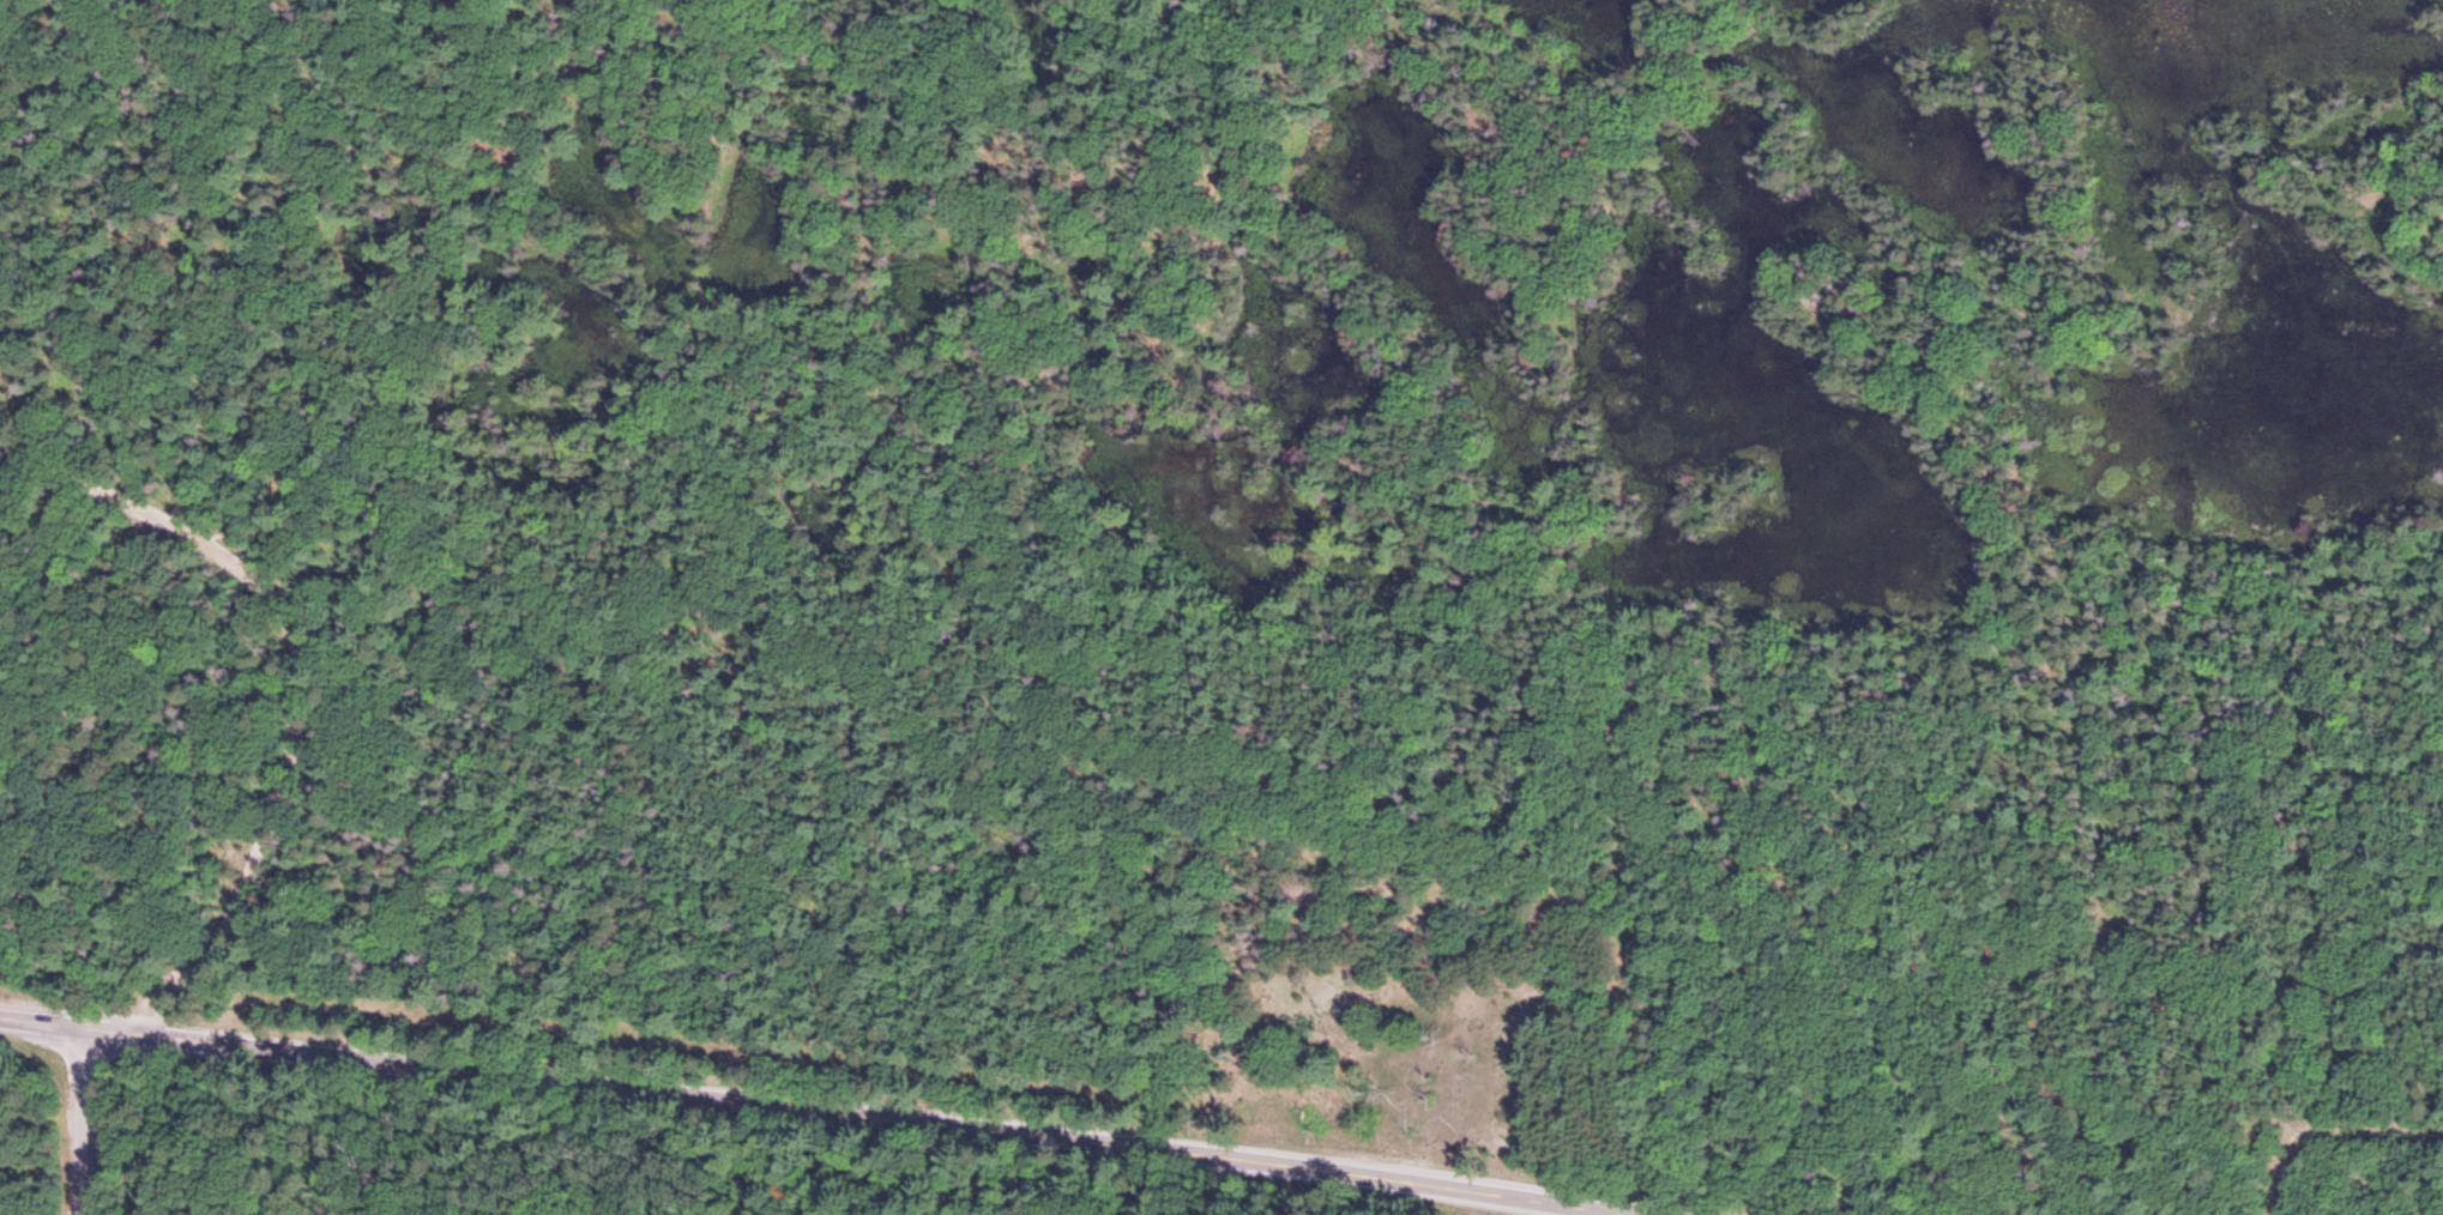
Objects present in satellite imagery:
road: (84, 531)
road: (1409, 612)
road: (303, 675)
road: (815, 1112)
road: (83, 1122)

